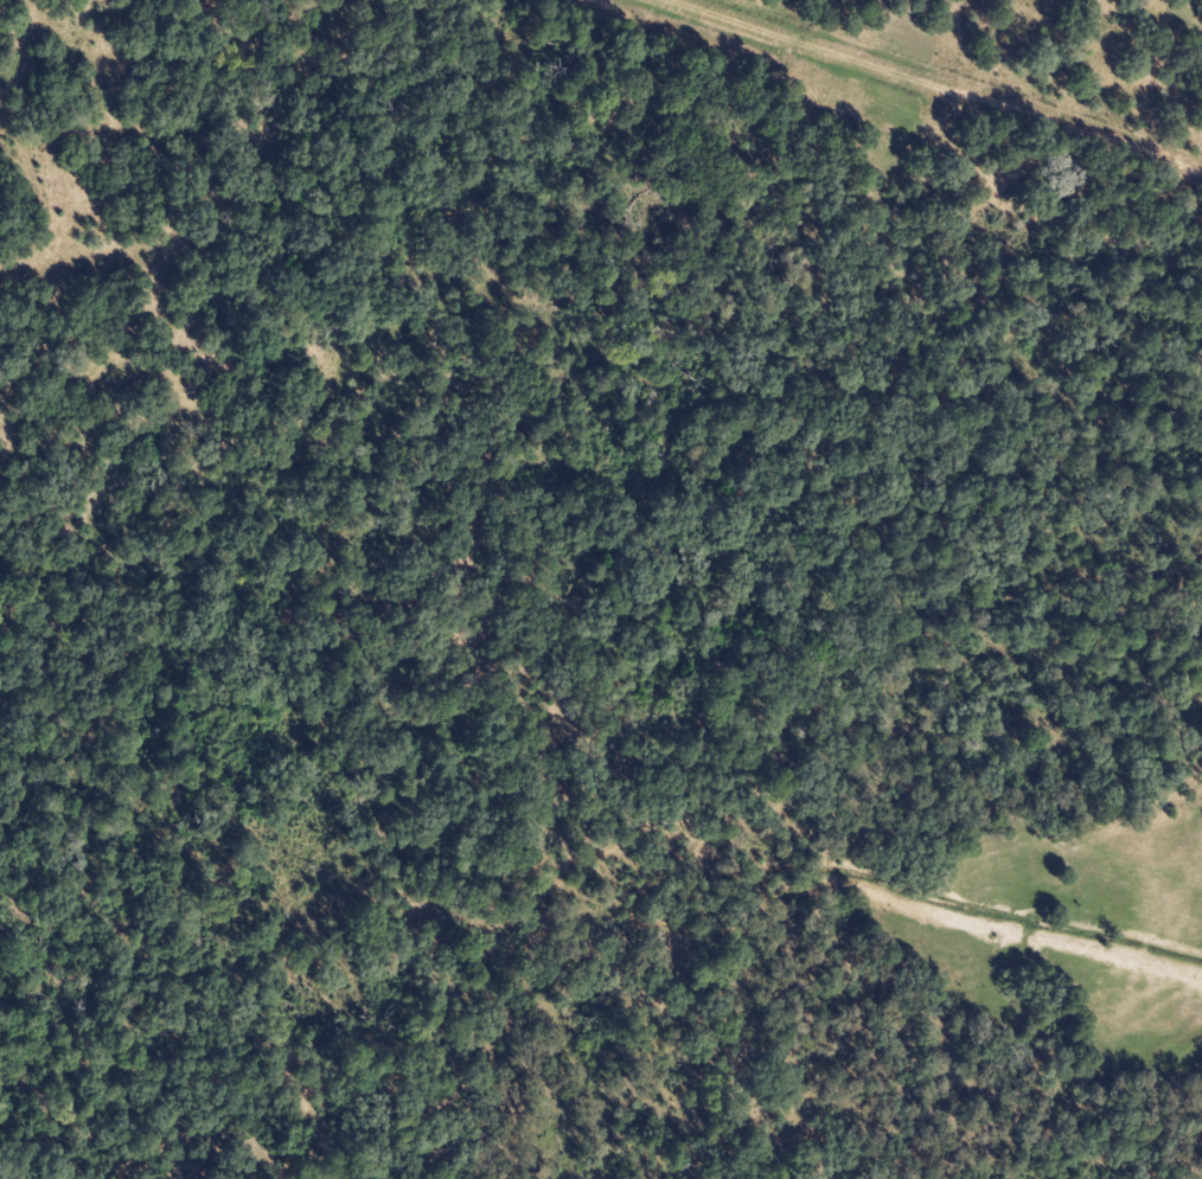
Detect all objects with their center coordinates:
road: (939, 85)

